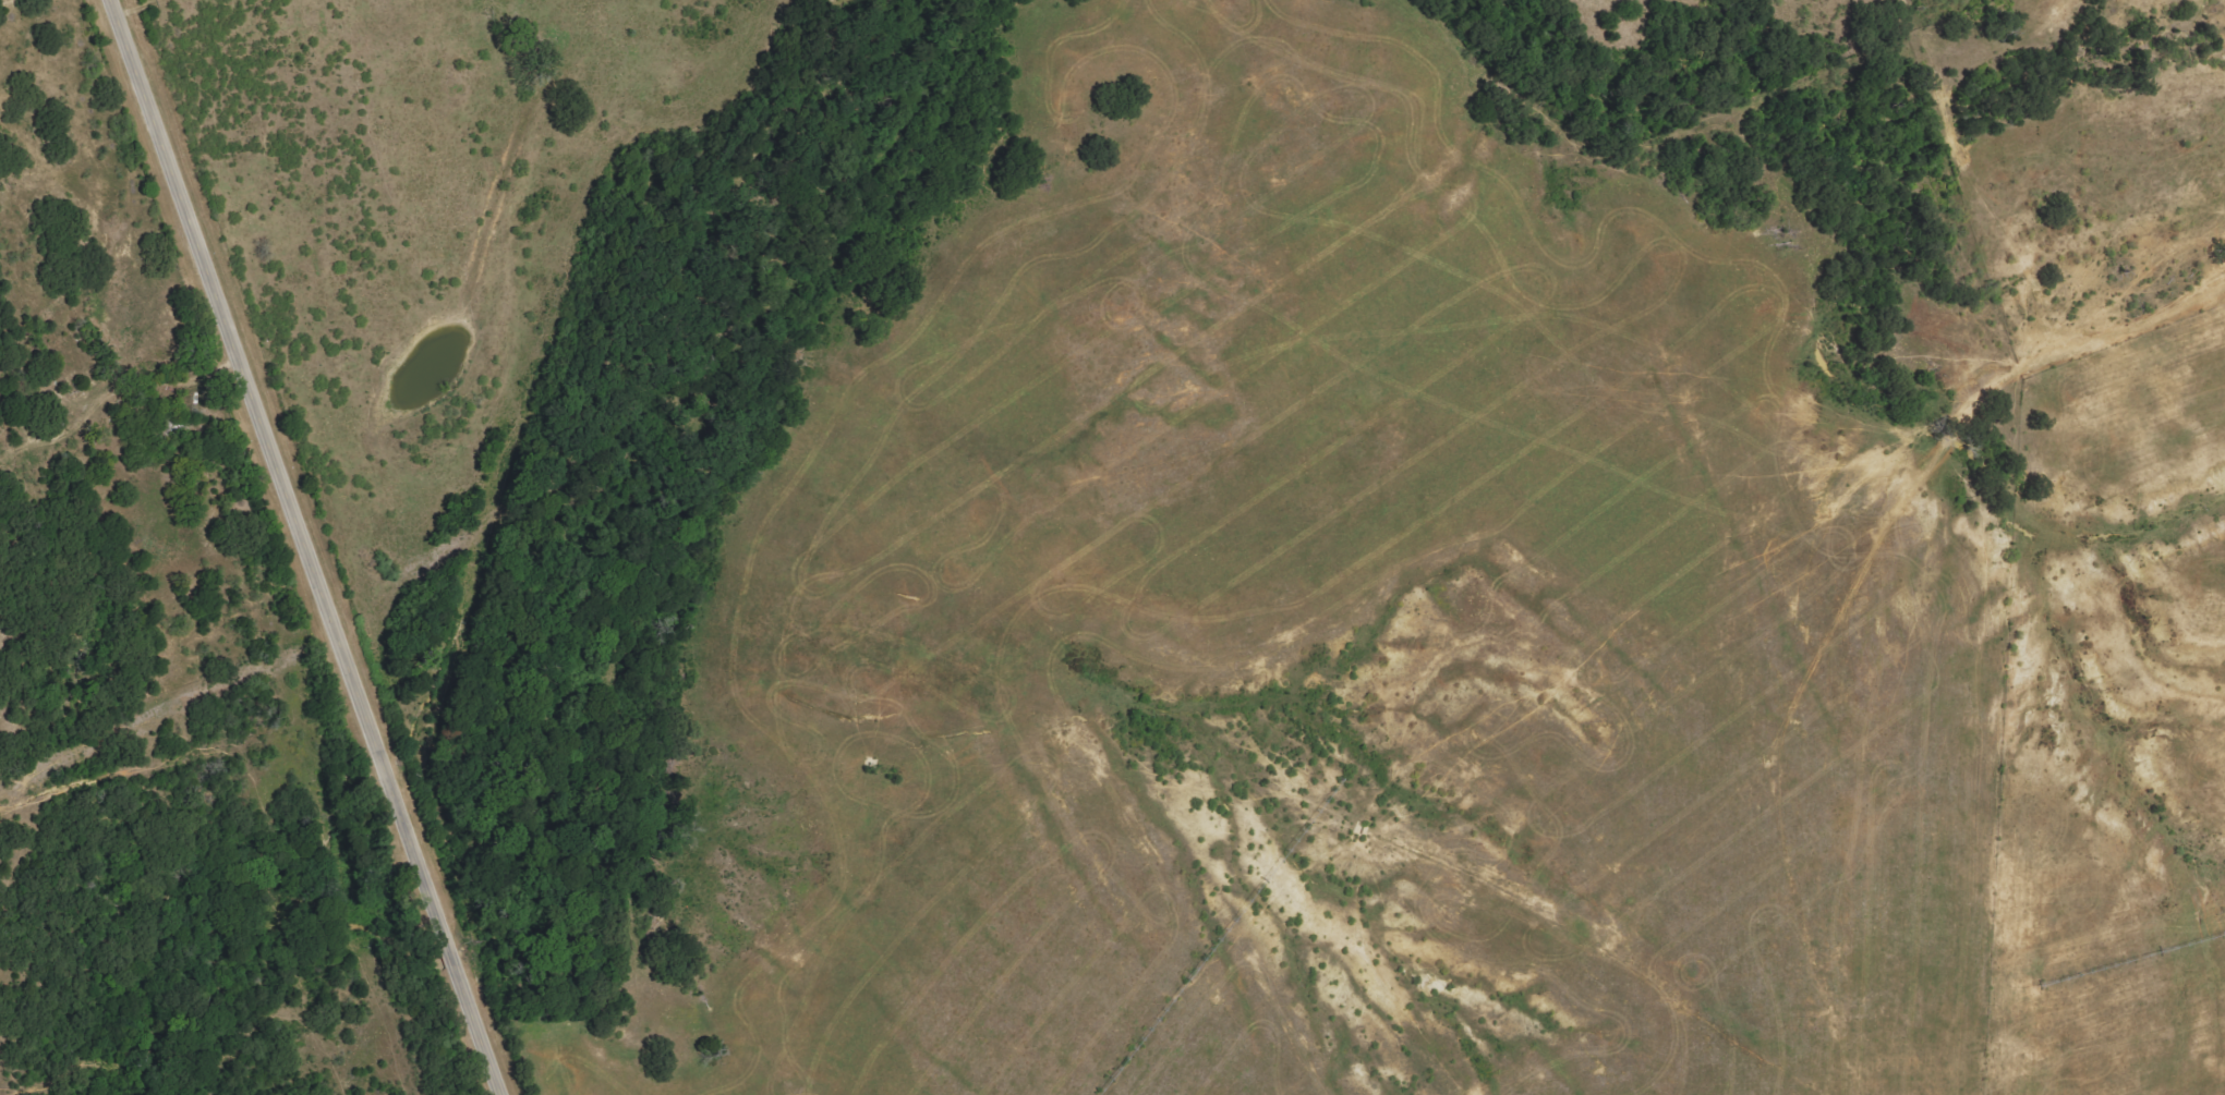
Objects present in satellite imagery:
road: (306, 547)

